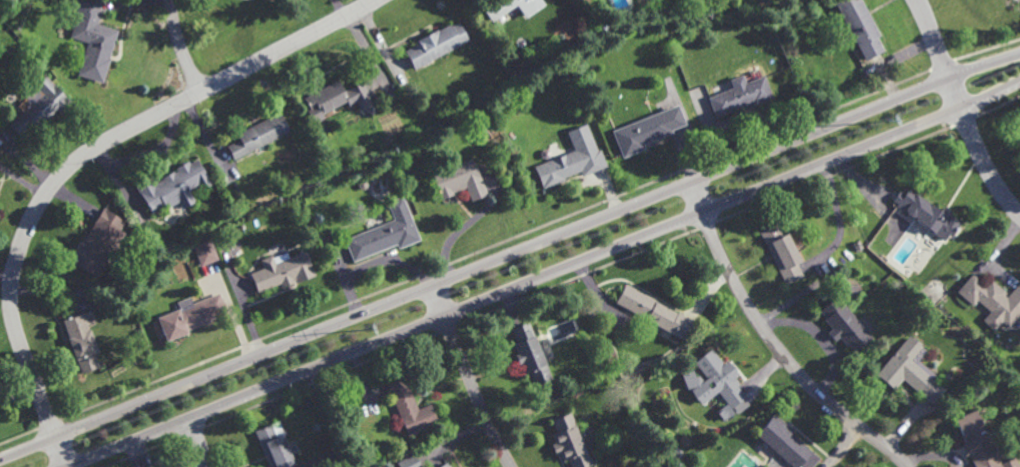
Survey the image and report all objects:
building: (509, 6)
building: (860, 26)
building: (93, 40)
building: (437, 43)
road: (181, 47)
building: (740, 94)
building: (338, 99)
building: (40, 106)
road: (962, 110)
power tower: (886, 116)
building: (647, 129)
building: (258, 135)
road: (77, 159)
building: (562, 165)
building: (460, 180)
building: (171, 185)
building: (931, 216)
building: (385, 232)
building: (96, 241)
building: (204, 249)
building: (781, 251)
road: (509, 255)
building: (281, 269)
road: (545, 275)
building: (935, 295)
building: (992, 298)
building: (656, 312)
building: (189, 314)
building: (843, 323)
power tower: (365, 327)
building: (562, 330)
building: (81, 341)
road: (775, 344)
building: (529, 352)
building: (910, 369)
road: (469, 377)
building: (720, 379)
building: (408, 405)
building: (726, 411)
building: (568, 441)
building: (785, 442)
building: (980, 442)
road: (196, 443)
building: (272, 444)
building: (408, 461)
building: (441, 465)

